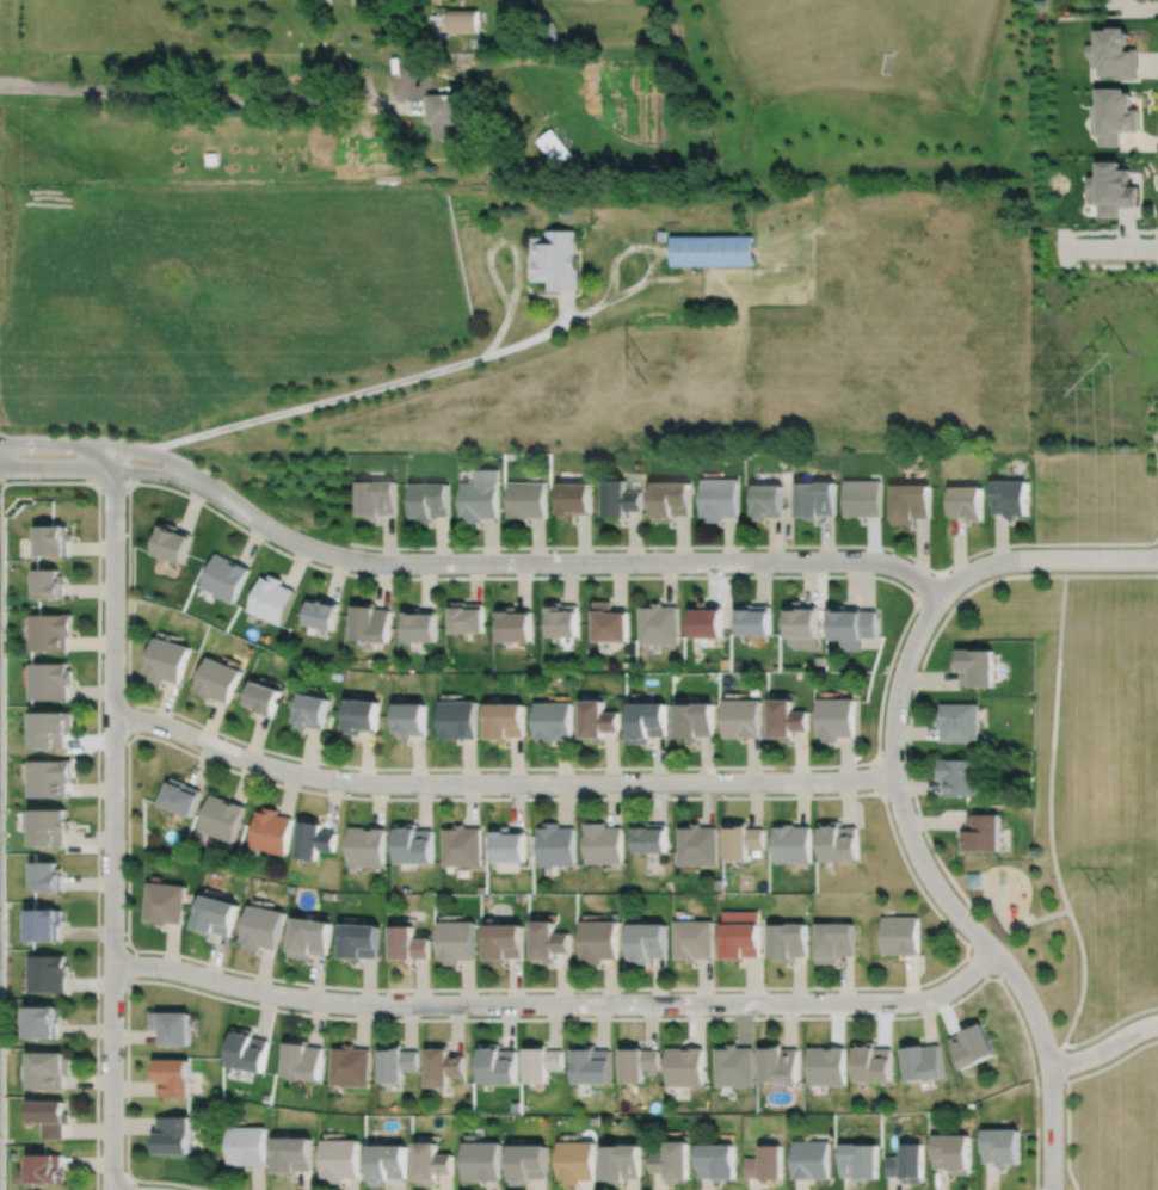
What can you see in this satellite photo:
building: (370, 1)
building: (466, 20)
building: (1114, 53)
road: (1157, 85)
road: (210, 97)
building: (444, 115)
building: (1113, 116)
road: (1157, 118)
building: (555, 147)
building: (1111, 189)
road: (1116, 232)
building: (660, 235)
road: (500, 236)
road: (623, 245)
road: (1107, 248)
building: (710, 249)
building: (555, 260)
road: (1109, 265)
road: (665, 278)
road: (605, 301)
road: (566, 309)
road: (499, 335)
road: (524, 341)
power tower: (1109, 370)
power tower: (652, 378)
road: (313, 402)
road: (131, 449)
road: (1154, 451)
road: (127, 470)
road: (60, 482)
building: (480, 498)
building: (376, 499)
building: (717, 499)
building: (862, 499)
building: (1010, 499)
building: (574, 500)
building: (618, 500)
building: (814, 500)
building: (430, 501)
building: (526, 501)
building: (669, 501)
building: (765, 502)
building: (910, 504)
building: (966, 504)
building: (54, 542)
building: (170, 544)
road: (759, 545)
road: (1042, 559)
road: (592, 562)
road: (1111, 574)
road: (1010, 576)
building: (222, 579)
building: (49, 586)
road: (928, 586)
building: (270, 600)
building: (320, 616)
building: (467, 619)
building: (562, 622)
building: (752, 622)
building: (704, 623)
building: (369, 624)
building: (608, 625)
building: (419, 627)
building: (515, 627)
building: (657, 627)
building: (802, 628)
building: (850, 628)
building: (51, 633)
building: (166, 662)
building: (977, 670)
building: (50, 680)
building: (216, 682)
road: (111, 695)
building: (263, 699)
building: (310, 711)
building: (362, 715)
road: (134, 719)
building: (411, 719)
building: (741, 719)
building: (834, 719)
building: (458, 720)
building: (596, 720)
building: (505, 721)
building: (552, 721)
building: (646, 721)
building: (694, 721)
building: (786, 721)
building: (959, 722)
building: (51, 727)
road: (111, 741)
road: (863, 763)
road: (879, 772)
building: (960, 775)
building: (50, 776)
road: (498, 782)
building: (178, 795)
park: (1089, 800)
building: (220, 816)
road: (111, 818)
building: (50, 825)
building: (269, 830)
building: (981, 831)
road: (97, 836)
building: (648, 836)
building: (312, 838)
building: (740, 839)
building: (838, 840)
building: (602, 841)
building: (791, 841)
building: (413, 843)
building: (696, 843)
building: (507, 844)
building: (554, 844)
building: (365, 845)
building: (461, 845)
building: (48, 875)
building: (974, 877)
power tower: (1104, 892)
road: (946, 900)
building: (164, 901)
road: (974, 901)
building: (214, 914)
road: (1049, 914)
building: (45, 923)
building: (261, 926)
building: (739, 933)
building: (900, 935)
building: (309, 936)
building: (691, 938)
building: (359, 939)
building: (456, 939)
building: (546, 939)
building: (597, 939)
building: (786, 939)
building: (833, 939)
building: (504, 941)
building: (645, 941)
building: (408, 942)
road: (111, 943)
road: (135, 966)
road: (975, 967)
building: (49, 972)
road: (1083, 979)
road: (911, 986)
road: (111, 988)
road: (559, 1004)
road: (541, 1018)
road: (0, 1021)
building: (45, 1021)
building: (171, 1026)
road: (1109, 1026)
building: (972, 1044)
road: (1104, 1048)
building: (246, 1049)
building: (302, 1060)
building: (542, 1061)
building: (923, 1061)
road: (1113, 1061)
building: (395, 1062)
building: (635, 1062)
building: (871, 1062)
building: (498, 1063)
building: (777, 1063)
road: (1064, 1063)
building: (590, 1065)
building: (732, 1065)
building: (825, 1065)
building: (349, 1066)
building: (443, 1066)
building: (683, 1066)
building: (50, 1069)
building: (171, 1078)
building: (515, 1106)
building: (50, 1117)
building: (592, 1121)
building: (172, 1135)
road: (1067, 1136)
building: (246, 1146)
building: (1000, 1146)
building: (951, 1153)
building: (292, 1155)
building: (340, 1159)
building: (809, 1160)
building: (482, 1161)
building: (575, 1161)
building: (671, 1161)
building: (715, 1161)
building: (858, 1161)
building: (432, 1163)
building: (620, 1163)
building: (906, 1163)
building: (387, 1164)
building: (528, 1164)
building: (764, 1164)
building: (42, 1170)
road: (133, 1184)

